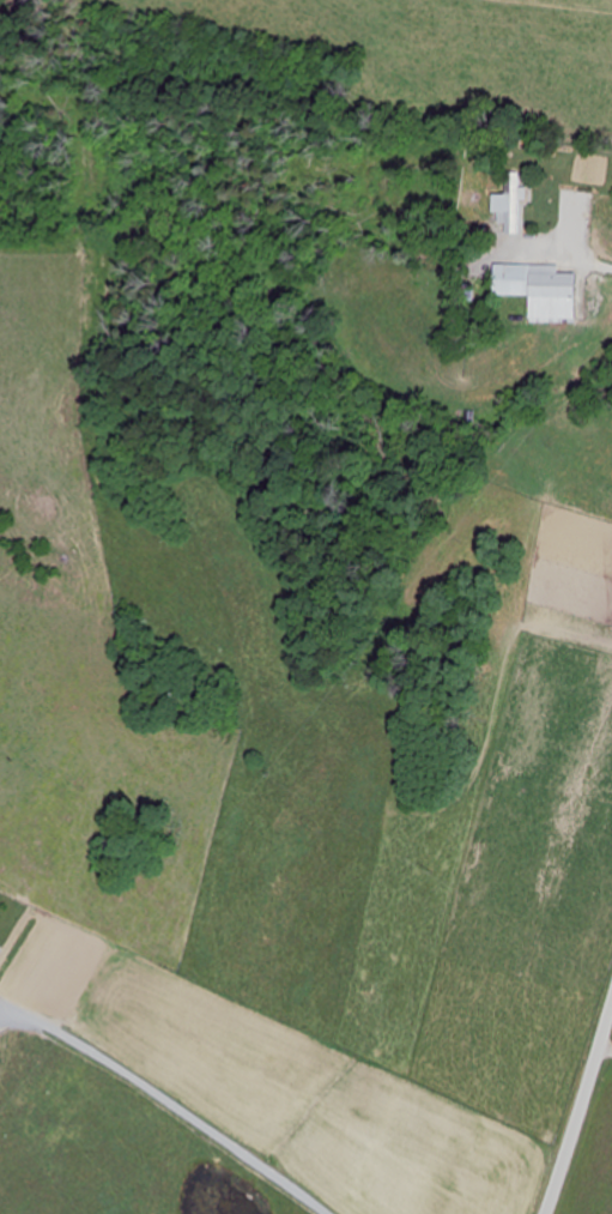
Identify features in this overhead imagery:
building: (514, 201)
building: (541, 290)
road: (598, 1098)
road: (580, 1109)
road: (57, 1164)

